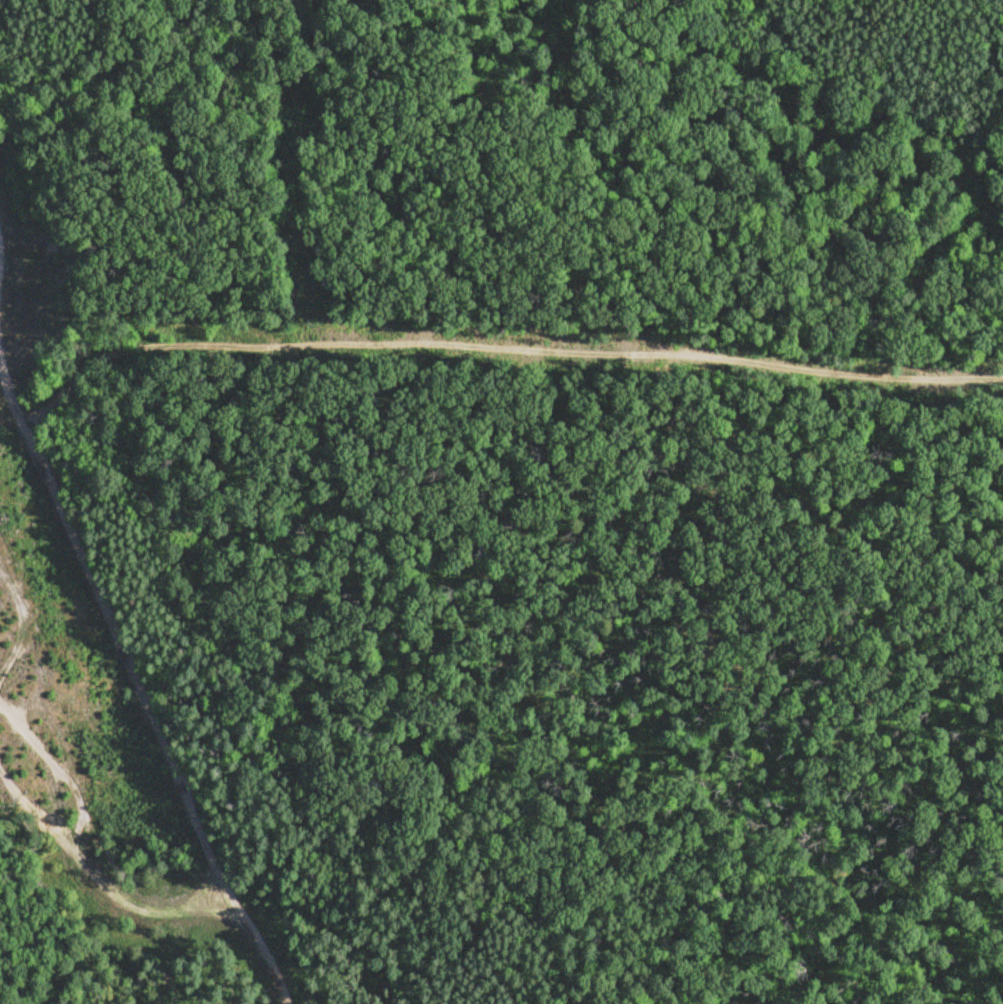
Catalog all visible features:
road: (499, 346)
road: (137, 686)
road: (96, 884)

